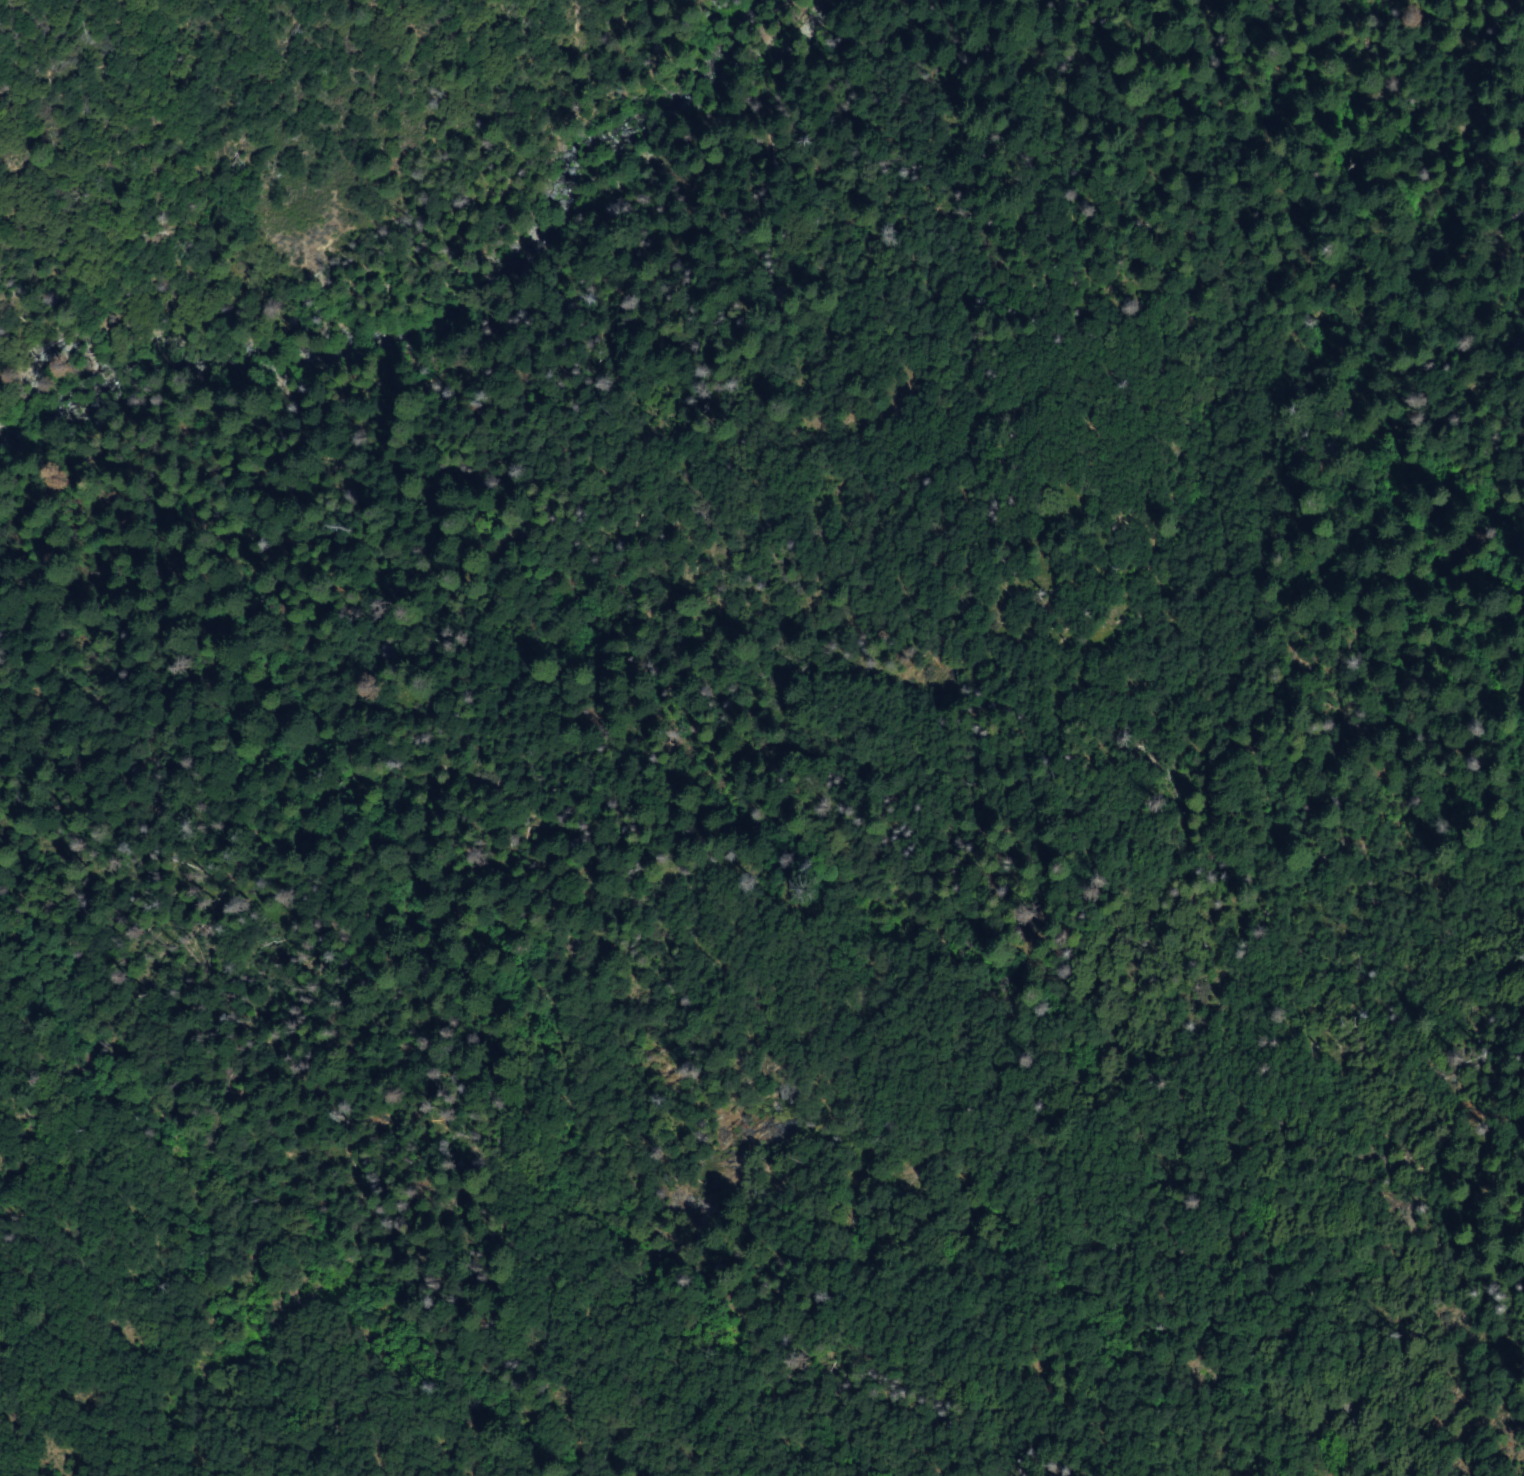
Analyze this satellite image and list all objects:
river: (424, 253)

